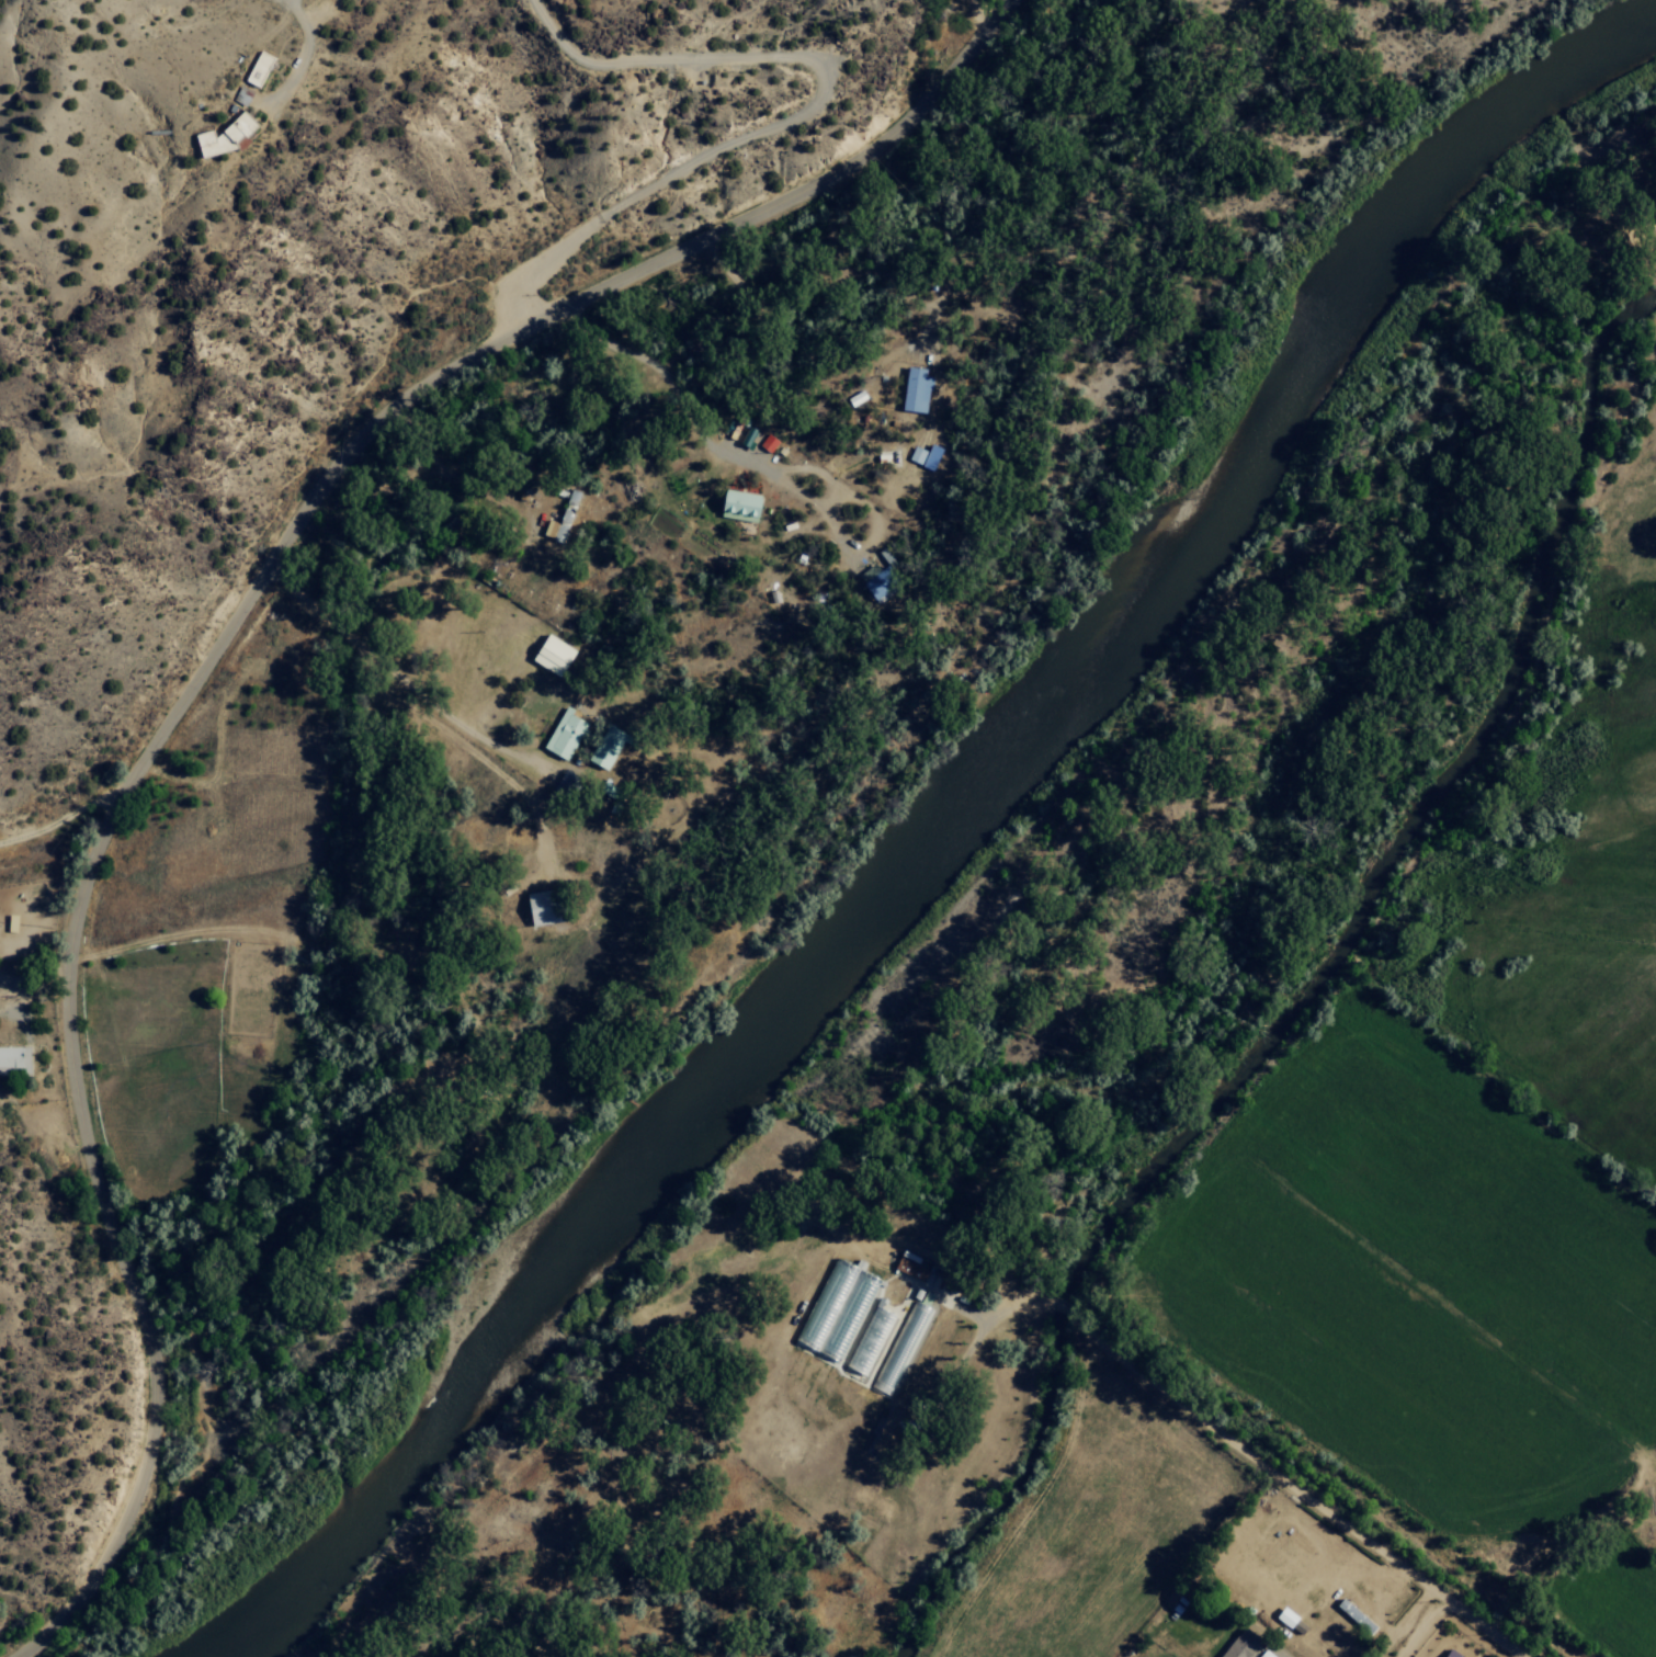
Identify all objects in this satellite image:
road: (979, 15)
building: (258, 68)
building: (240, 95)
building: (222, 137)
road: (631, 138)
road: (823, 290)
building: (912, 389)
road: (677, 402)
building: (767, 442)
building: (922, 455)
road: (362, 459)
road: (578, 465)
building: (737, 504)
building: (560, 518)
building: (882, 571)
road: (483, 637)
road: (266, 642)
building: (549, 655)
road: (205, 668)
building: (562, 734)
building: (602, 747)
river: (950, 842)
building: (534, 908)
building: (13, 1059)
road: (1506, 1272)
building: (835, 1309)
building: (906, 1326)
building: (867, 1340)
road: (1629, 1469)
road: (1602, 1575)
building: (1352, 1614)
building: (1237, 1645)
building: (1447, 1654)

